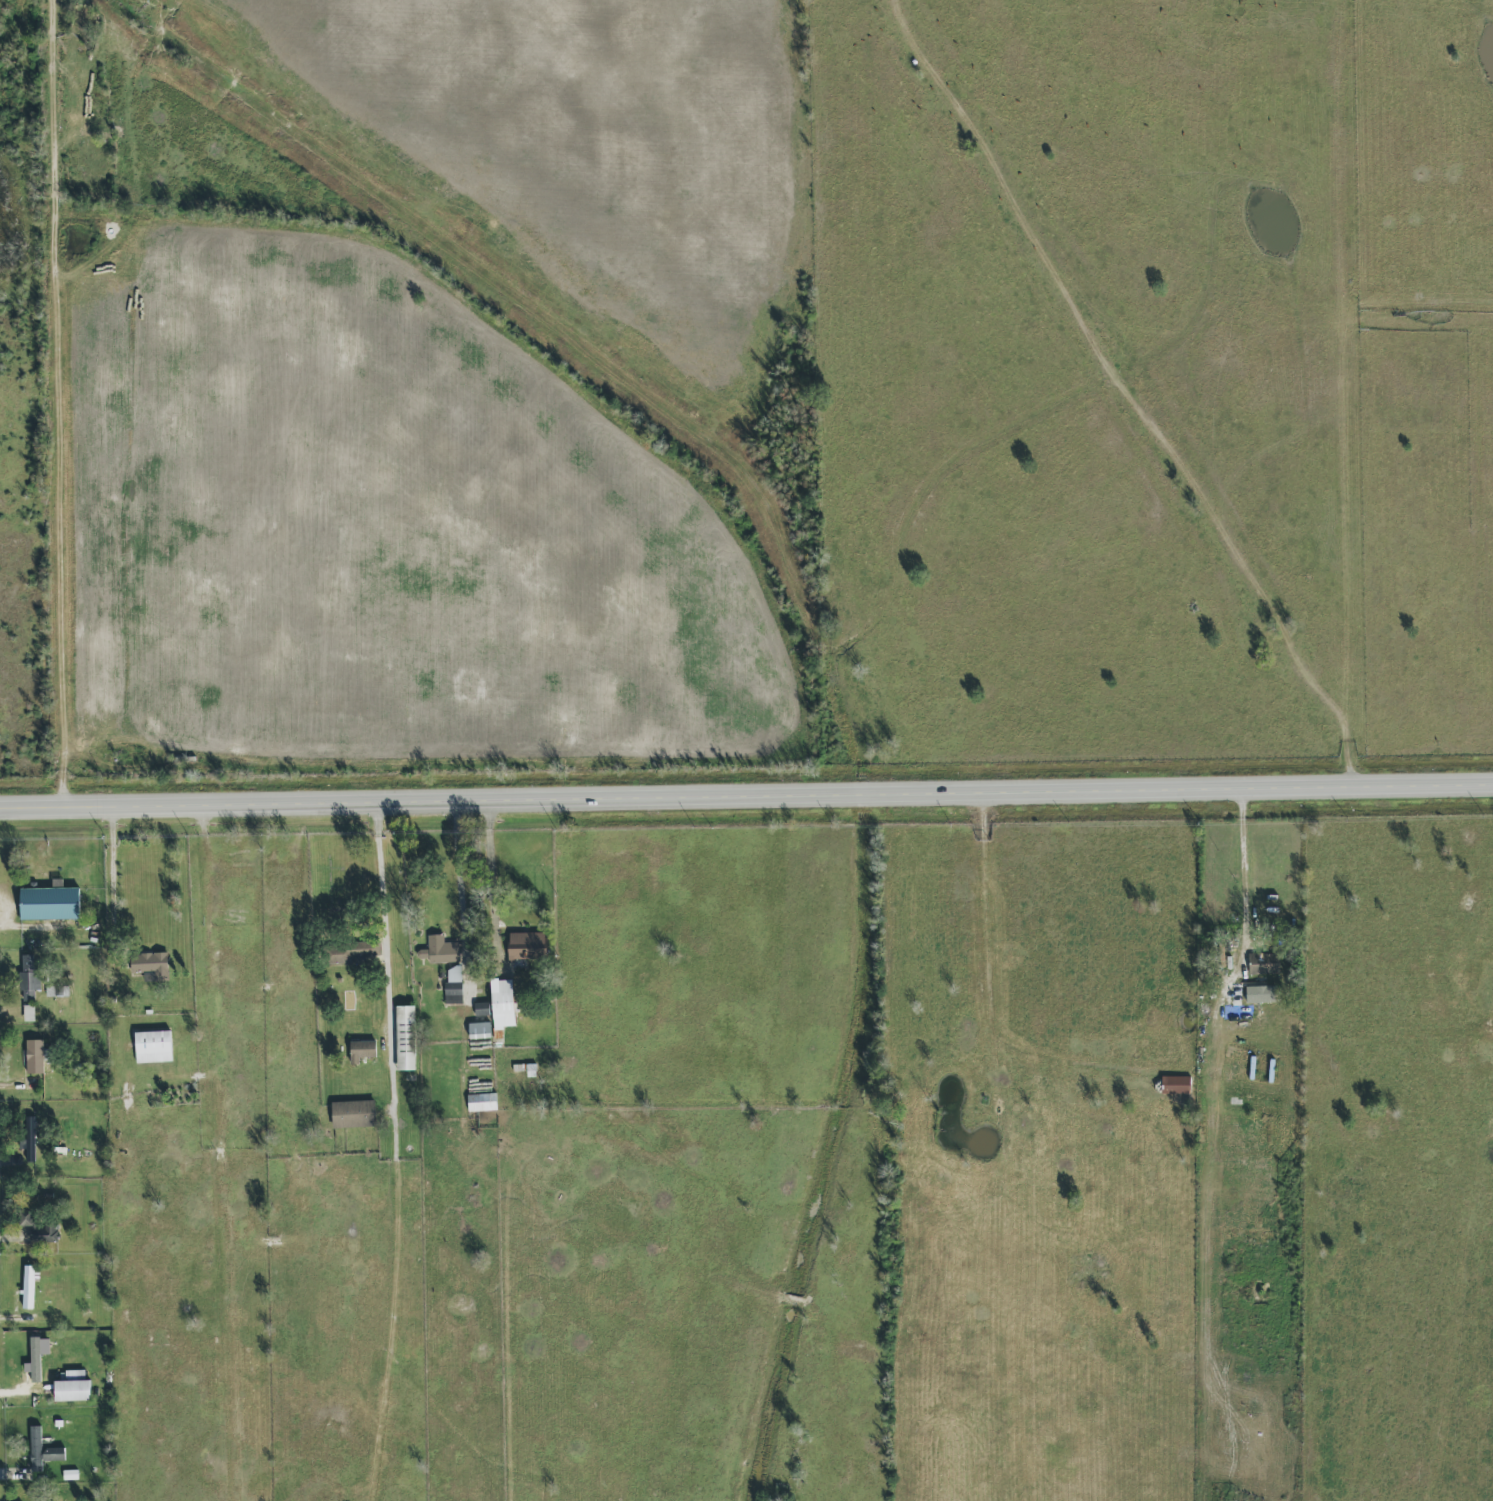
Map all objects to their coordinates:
road: (66, 403)
road: (746, 798)
road: (1249, 862)
road: (458, 874)
road: (494, 883)
building: (50, 904)
building: (527, 947)
building: (356, 950)
building: (441, 950)
building: (1264, 964)
building: (151, 965)
road: (392, 970)
building: (454, 974)
building: (29, 977)
building: (56, 991)
building: (454, 993)
building: (503, 1007)
building: (482, 1009)
building: (29, 1011)
building: (480, 1031)
building: (406, 1038)
building: (153, 1047)
building: (362, 1050)
building: (37, 1056)
building: (1176, 1085)
building: (481, 1102)
building: (354, 1114)
building: (31, 1143)
building: (44, 1233)
building: (28, 1288)
building: (36, 1360)
building: (73, 1388)
building: (42, 1450)

